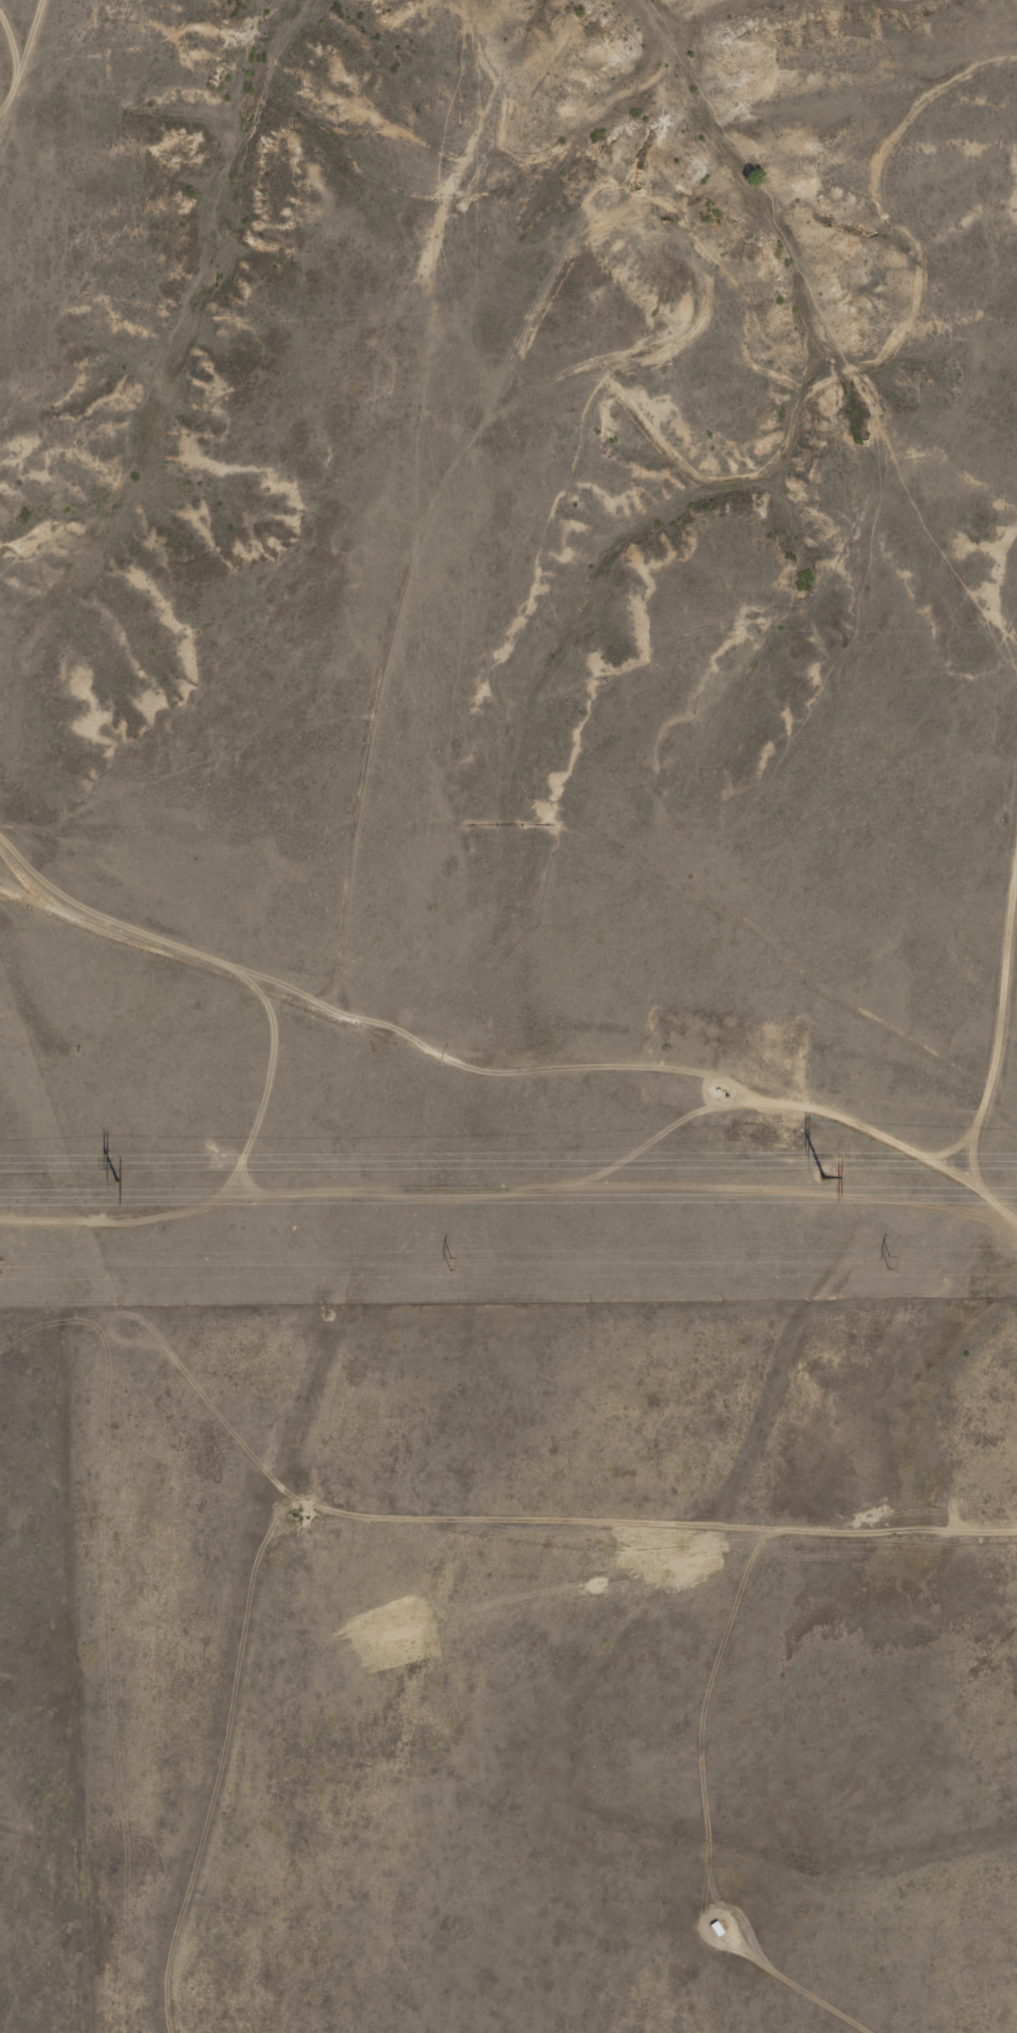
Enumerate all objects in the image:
road: (29, 868)
road: (455, 1066)
power tower: (823, 1176)
power tower: (116, 1179)
power tower: (889, 1262)
power tower: (450, 1263)
power tower: (0, 1266)

